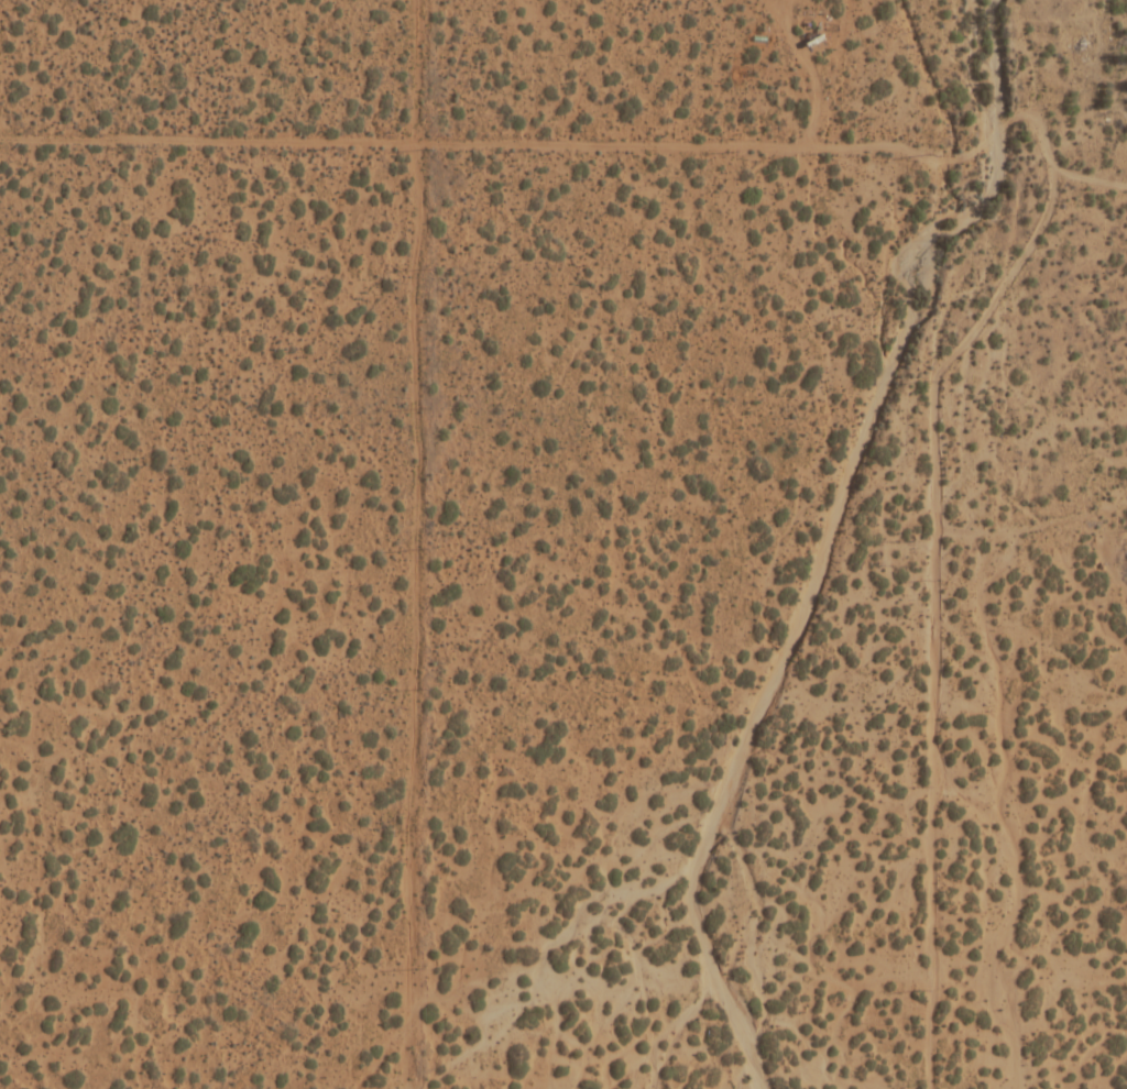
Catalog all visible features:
building: (1126, 577)

